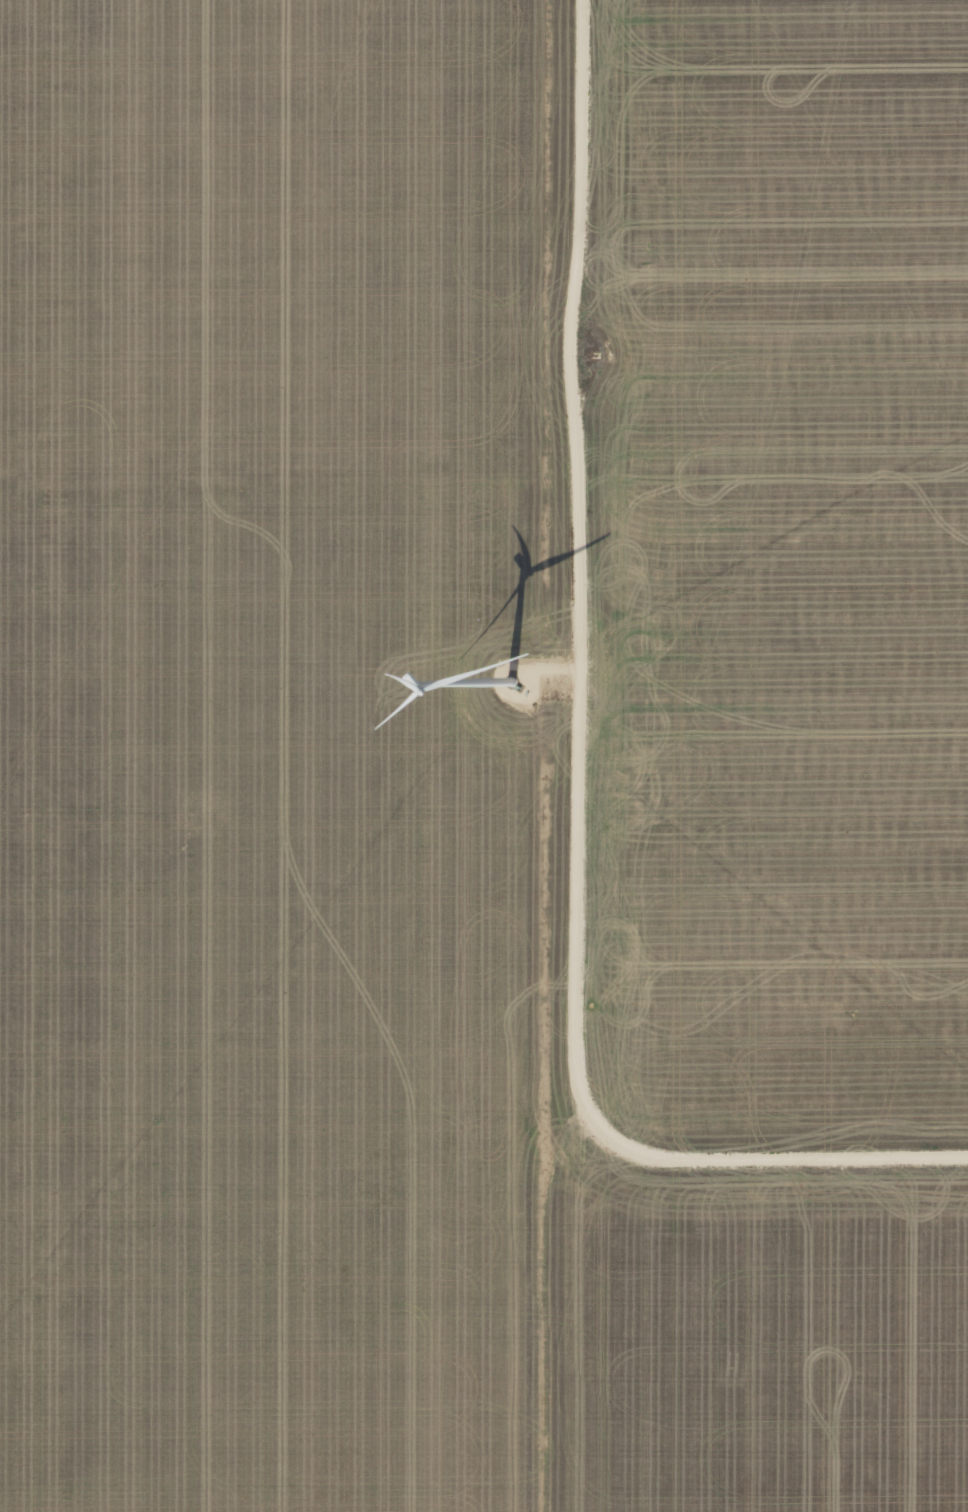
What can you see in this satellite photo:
wind turbine: (510, 682)

